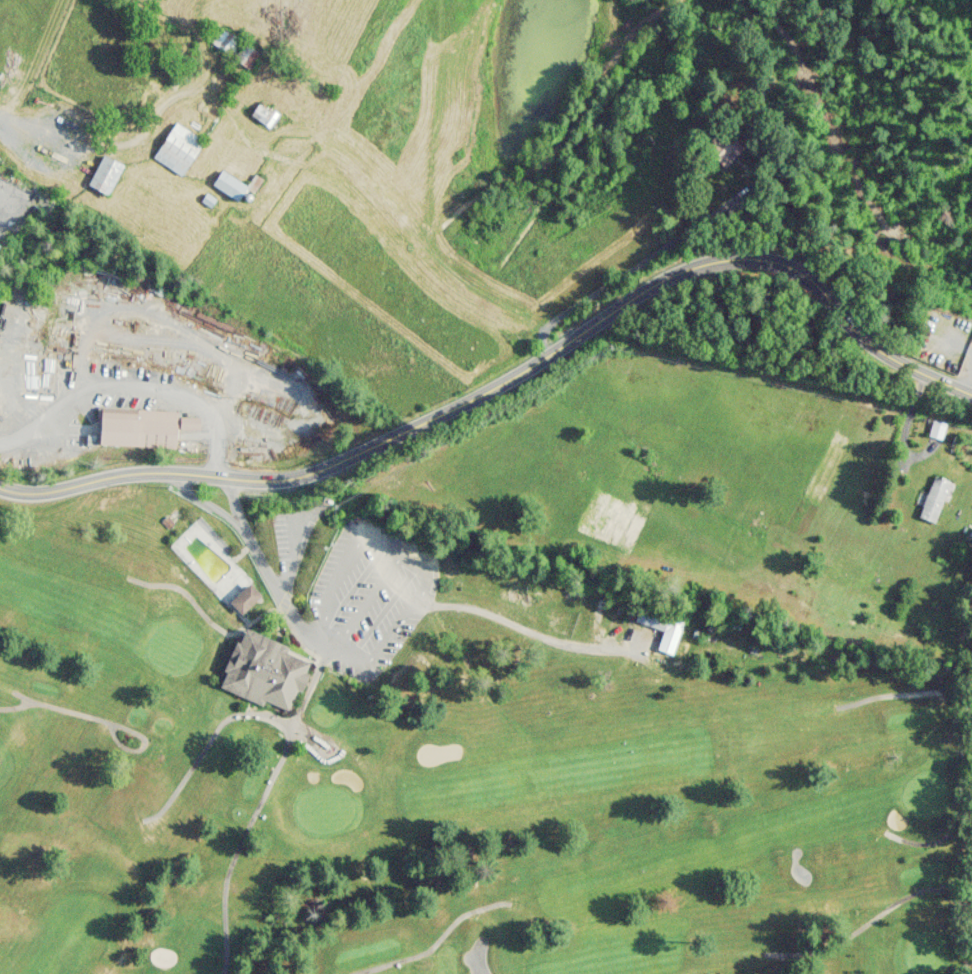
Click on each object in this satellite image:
building: (233, 47)
building: (263, 115)
building: (721, 147)
building: (177, 149)
building: (103, 176)
building: (234, 186)
road: (510, 368)
building: (141, 428)
building: (937, 430)
building: (933, 500)
building: (245, 599)
parking lot: (351, 614)
building: (658, 624)
building: (263, 672)
park: (444, 759)

